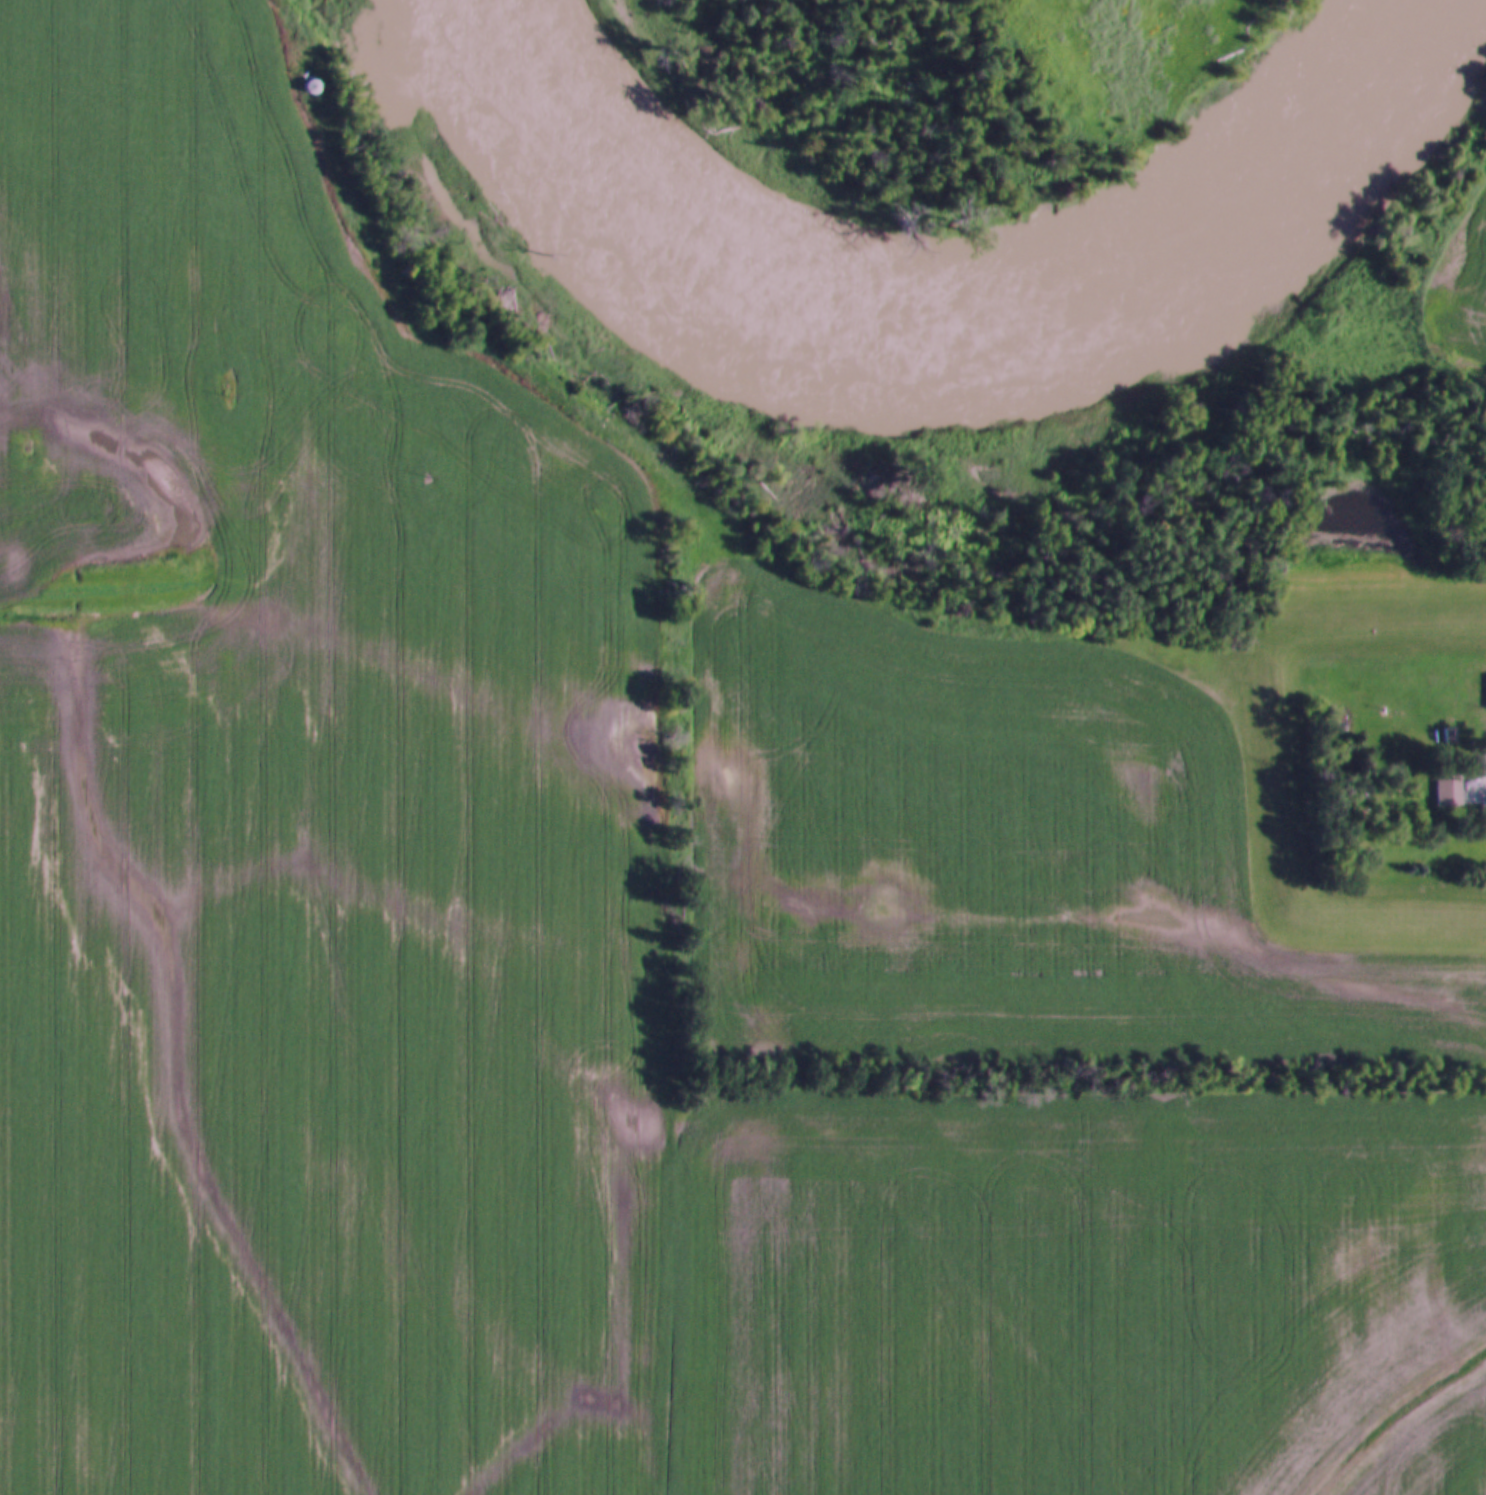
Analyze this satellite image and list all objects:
river: (938, 322)
road: (278, 398)
building: (1451, 735)
building: (1450, 791)
road: (692, 1200)

